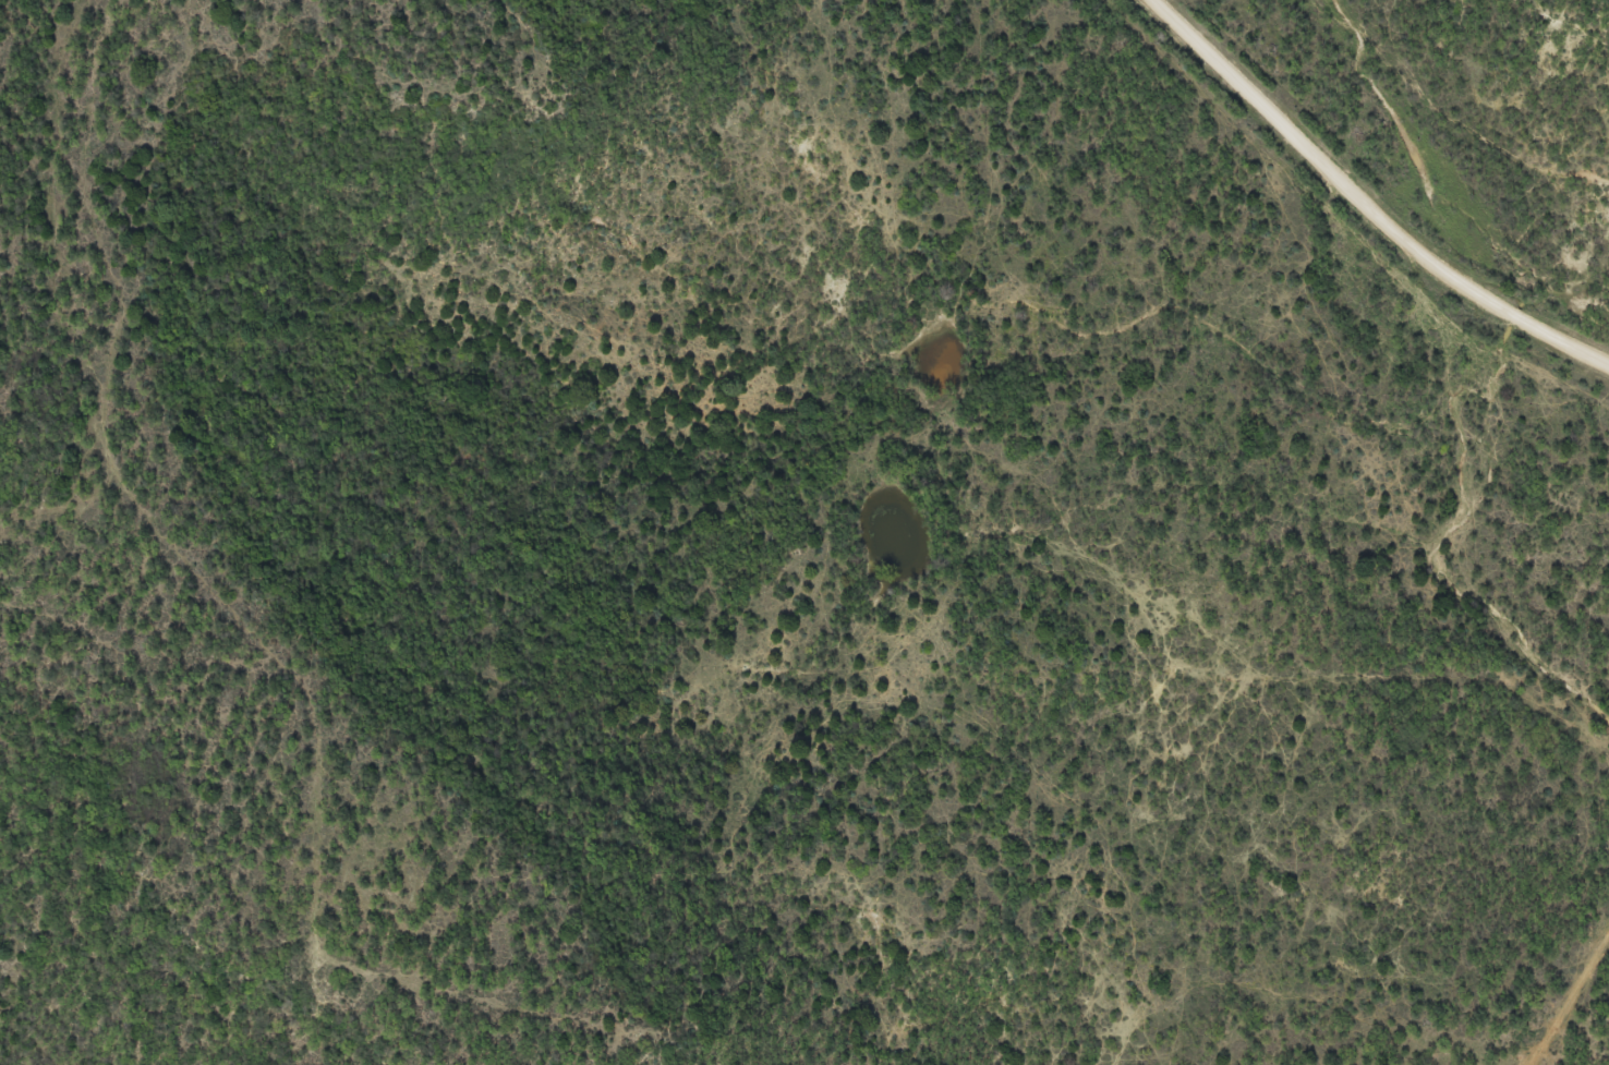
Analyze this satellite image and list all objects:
road: (1359, 210)

